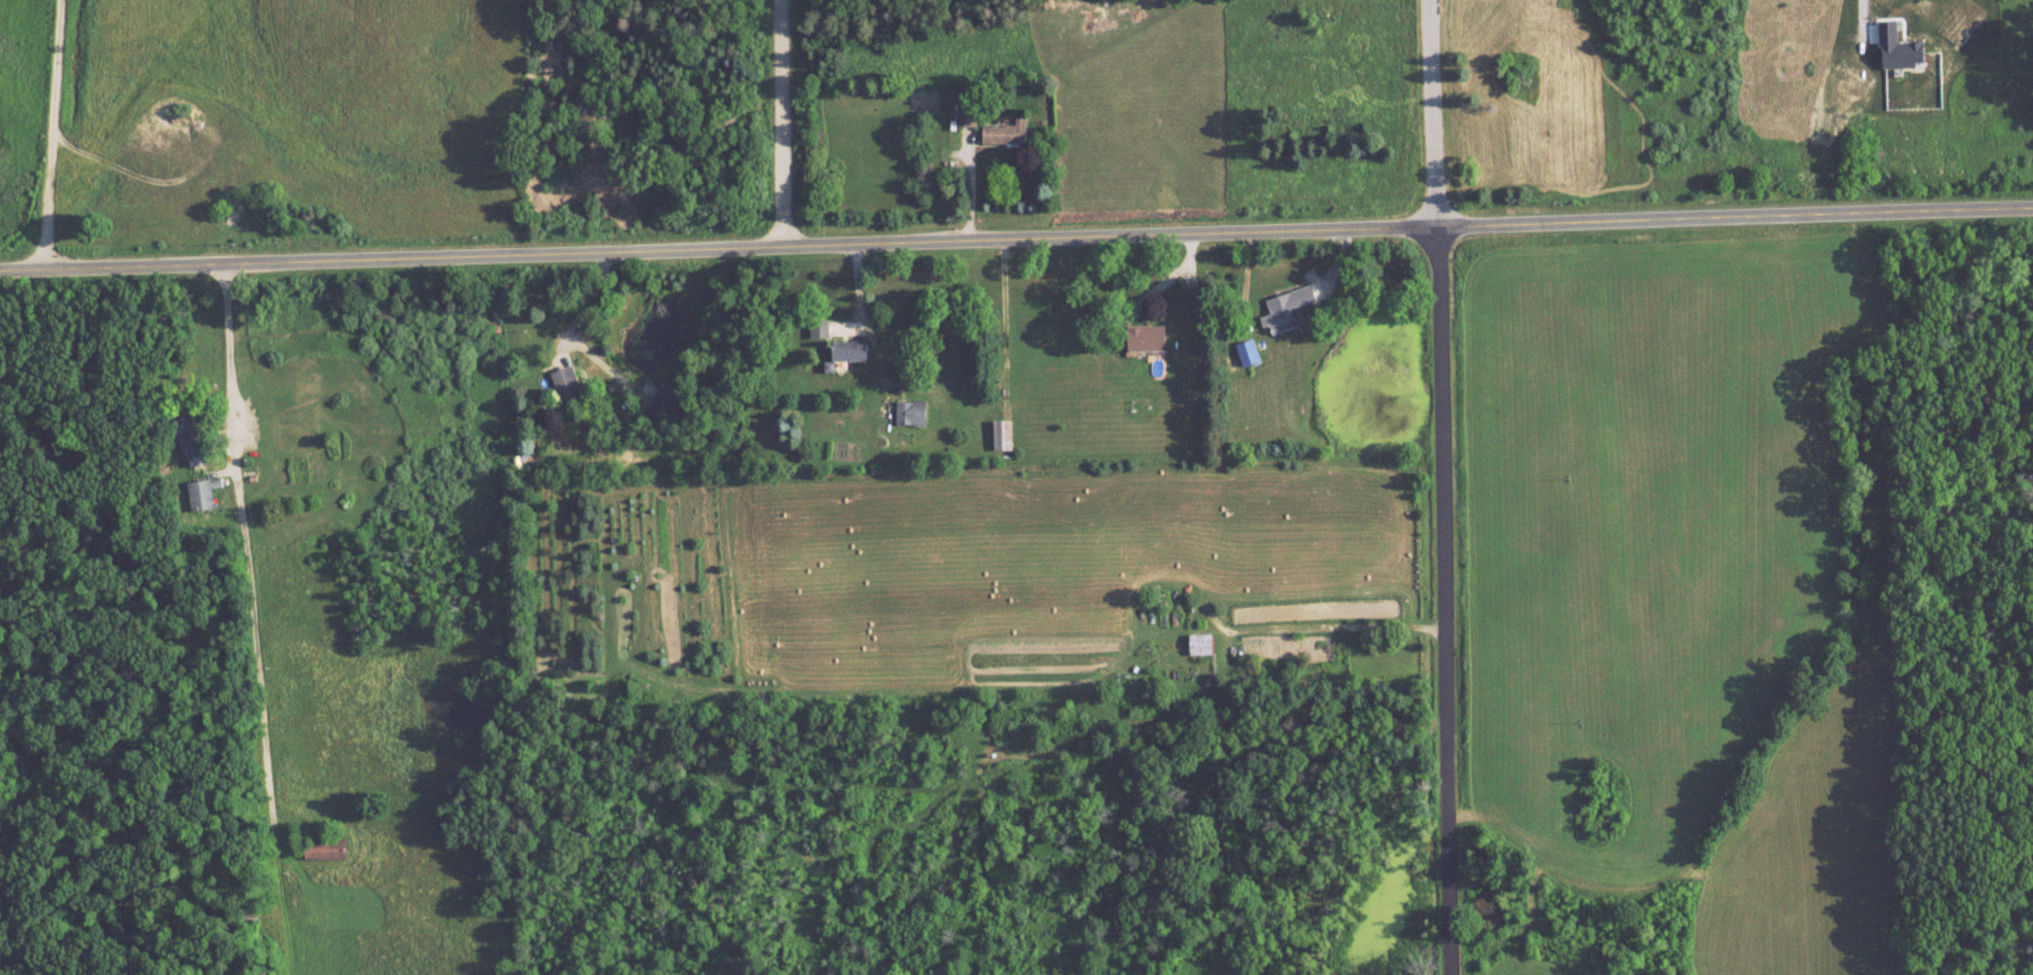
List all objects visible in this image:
road: (1433, 113)
building: (969, 114)
road: (790, 124)
building: (1007, 132)
road: (51, 134)
road: (968, 190)
road: (1016, 241)
road: (1168, 281)
road: (591, 303)
building: (1287, 309)
building: (821, 328)
building: (1149, 338)
building: (853, 350)
building: (572, 386)
building: (663, 403)
building: (913, 412)
building: (1004, 436)
building: (194, 440)
building: (206, 493)
road: (242, 538)
road: (1444, 601)
road: (1336, 628)
building: (1201, 643)
building: (328, 847)

